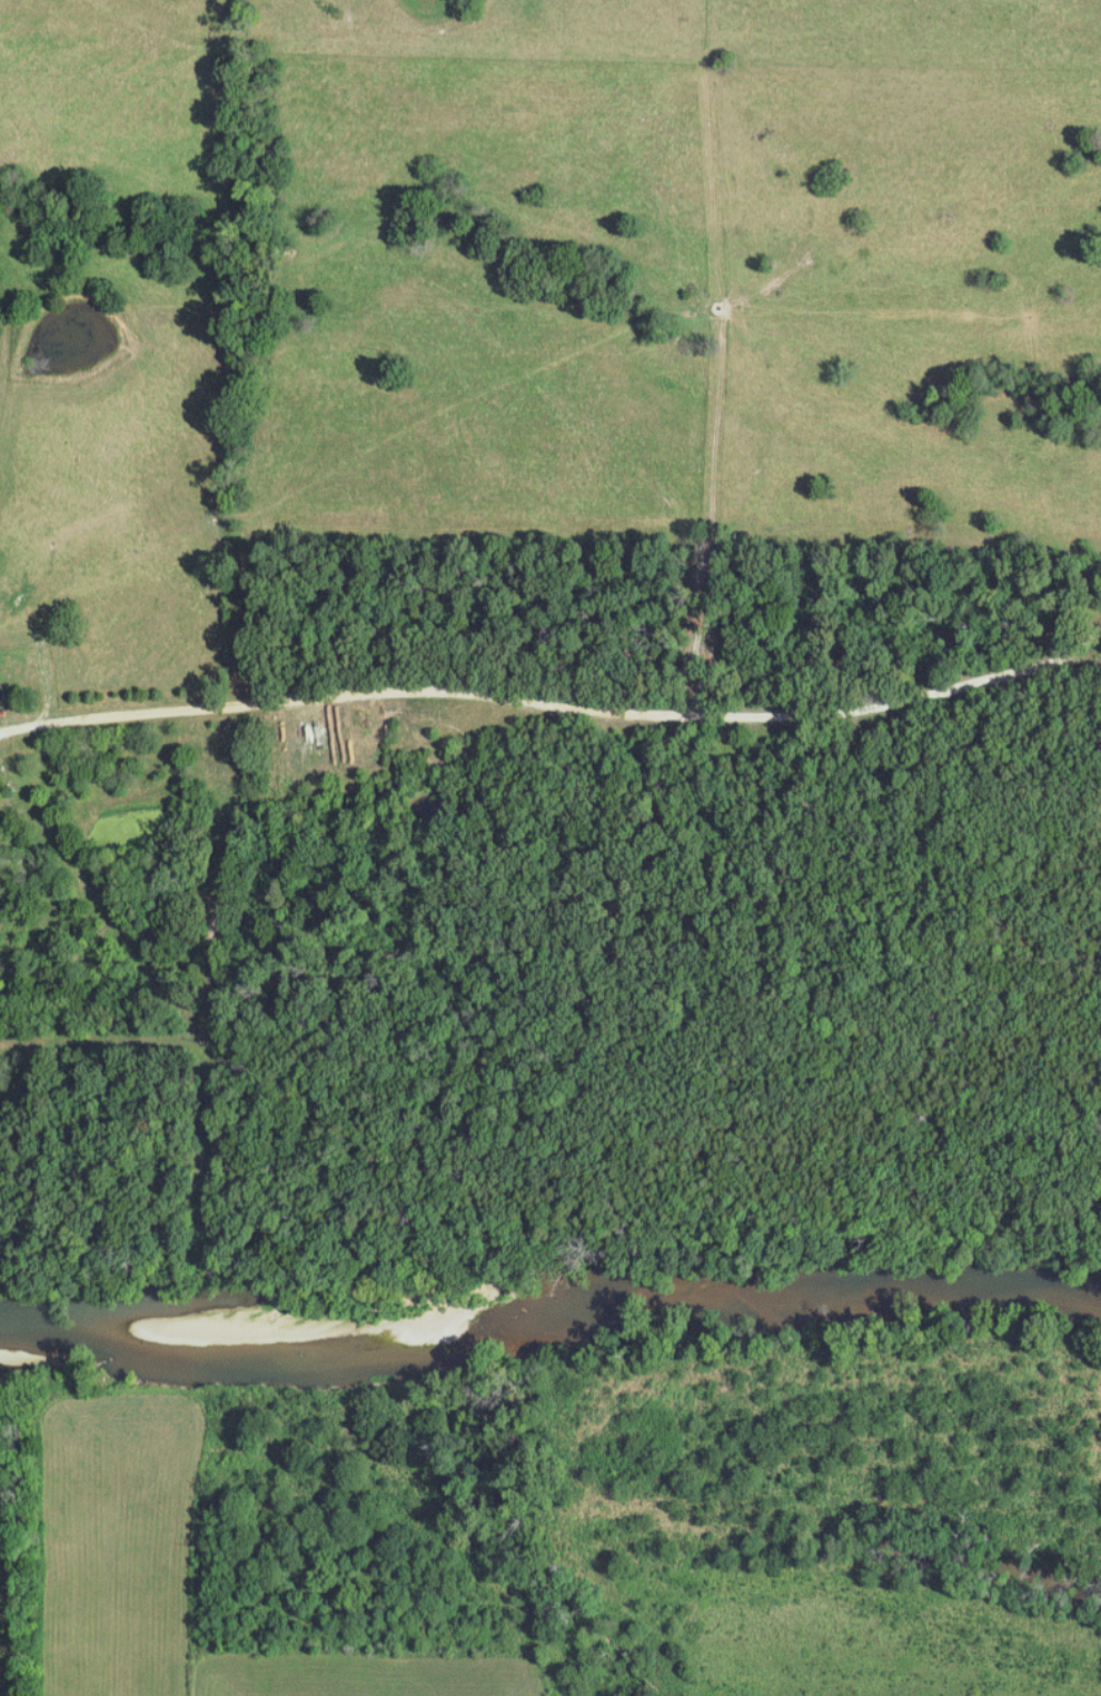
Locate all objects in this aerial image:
road: (556, 706)
river: (552, 1311)

